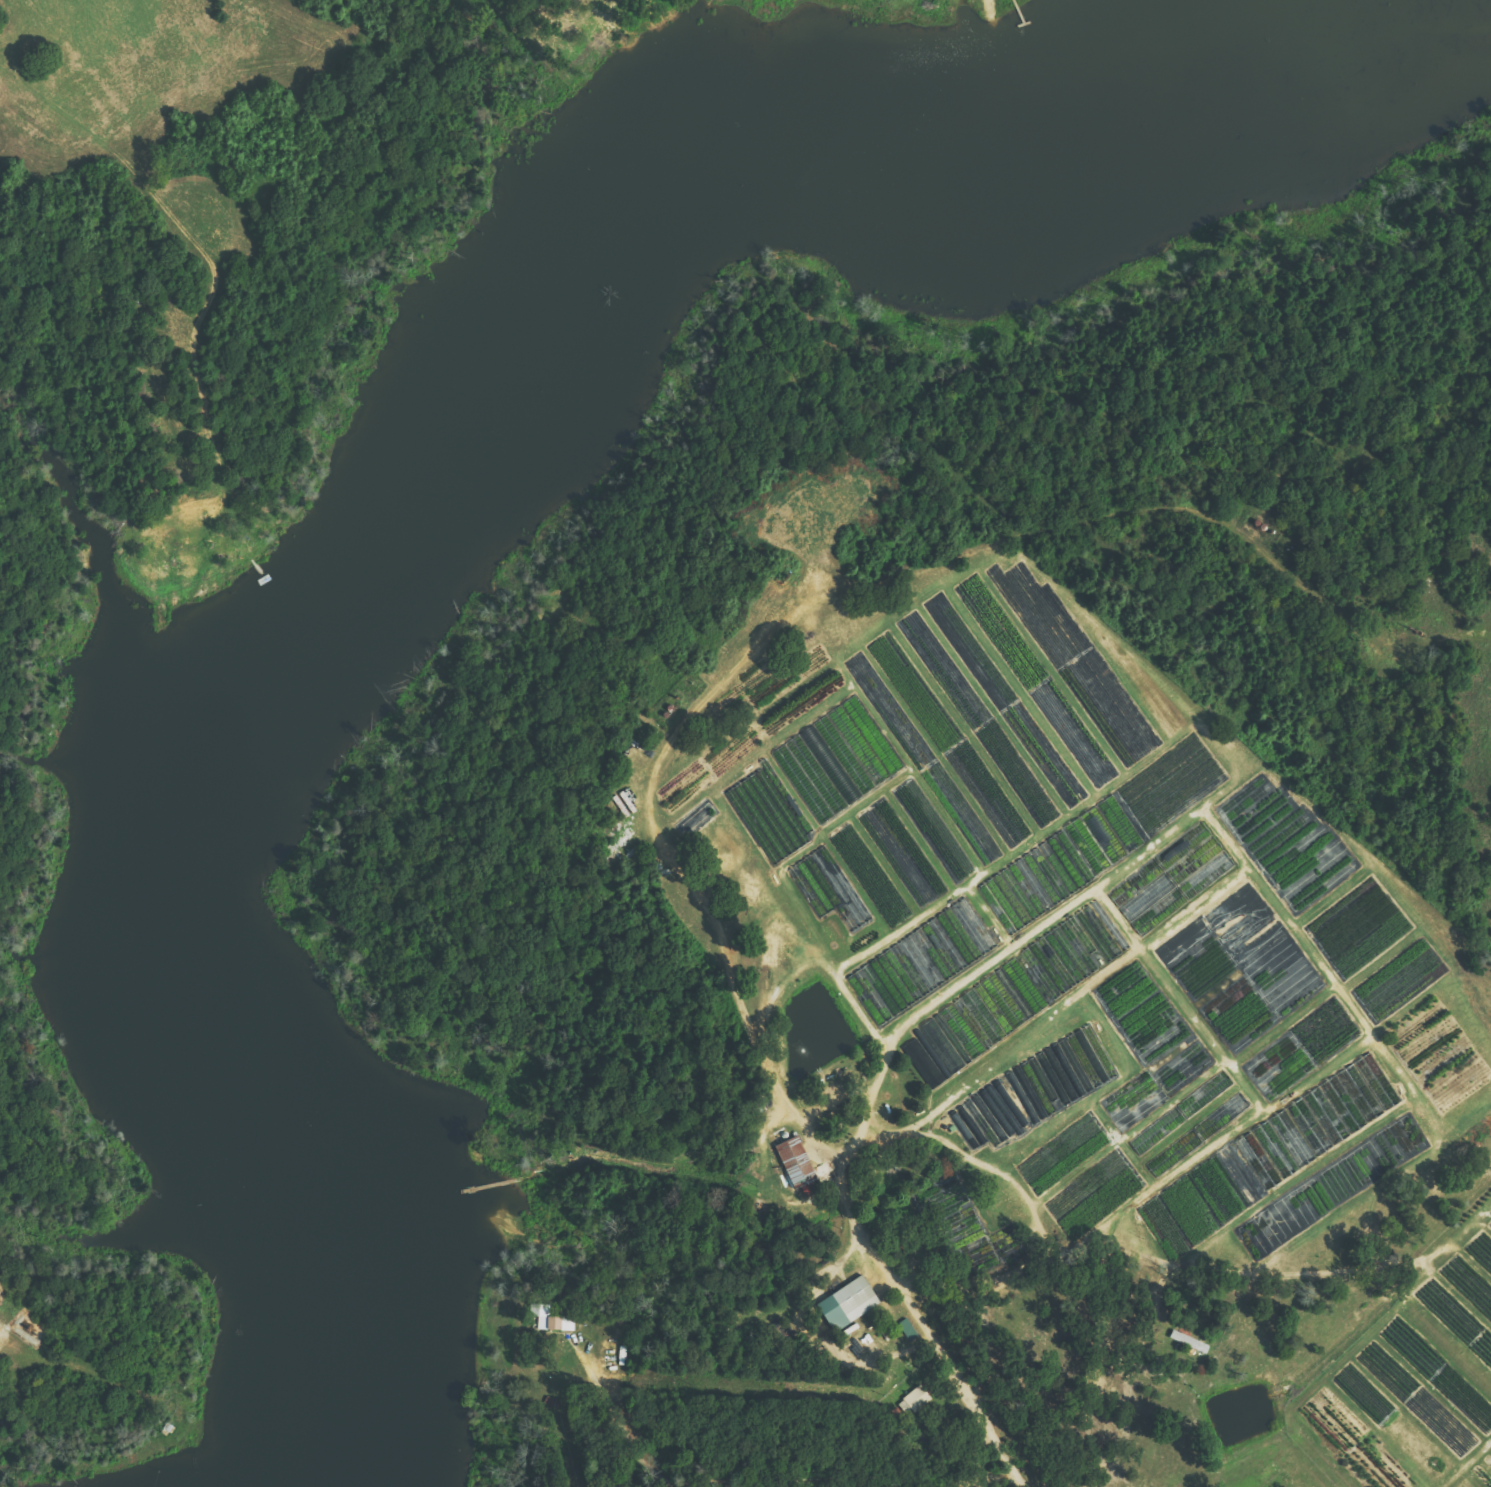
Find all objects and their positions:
building: (837, 760)
building: (768, 815)
building: (1061, 865)
building: (1171, 880)
building: (828, 888)
building: (1071, 951)
building: (924, 959)
building: (975, 1023)
building: (1035, 1089)
building: (1205, 1094)
building: (1234, 1107)
building: (1308, 1121)
building: (1154, 1133)
building: (1168, 1158)
building: (795, 1163)
road: (928, 1252)
building: (847, 1304)
building: (550, 1320)
building: (908, 1330)
building: (1188, 1342)
building: (913, 1401)
road: (916, 1449)
building: (979, 1486)

